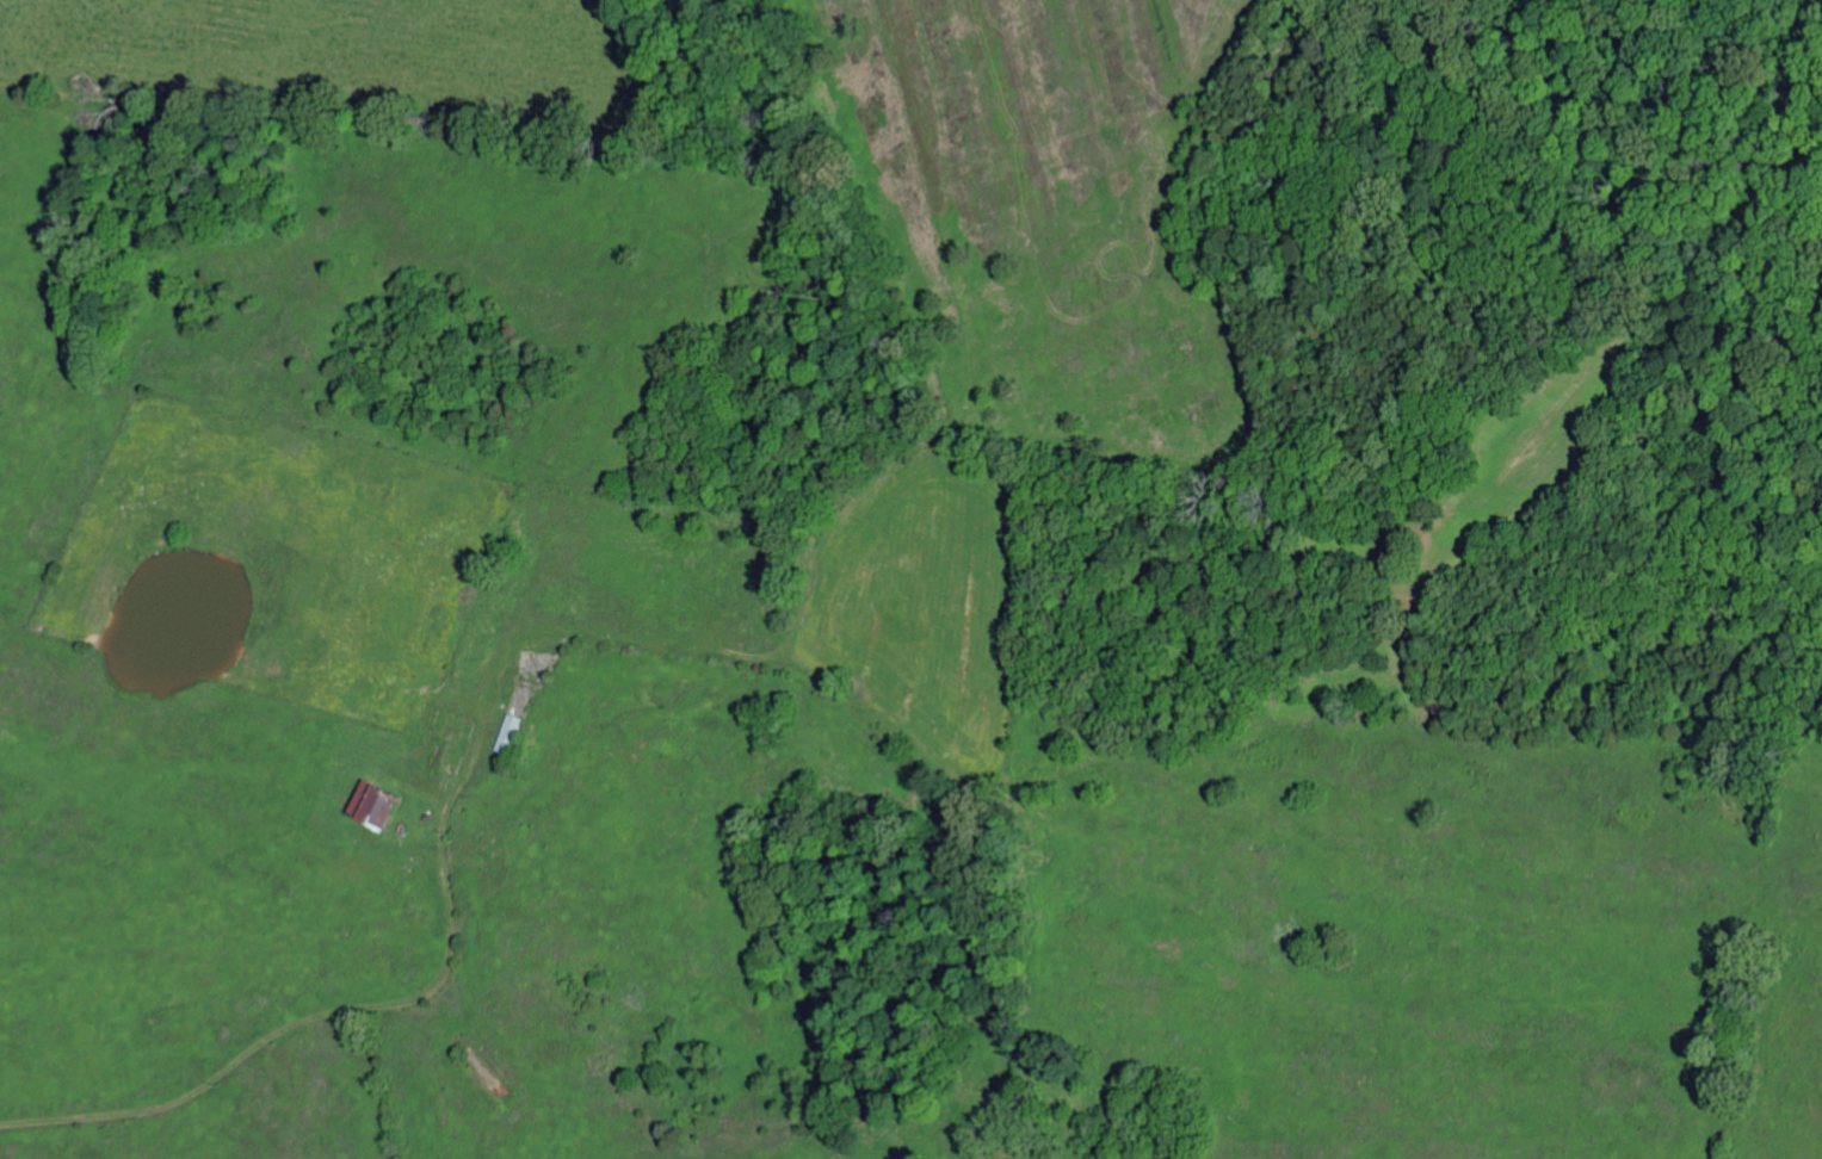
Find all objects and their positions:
building: (370, 804)

